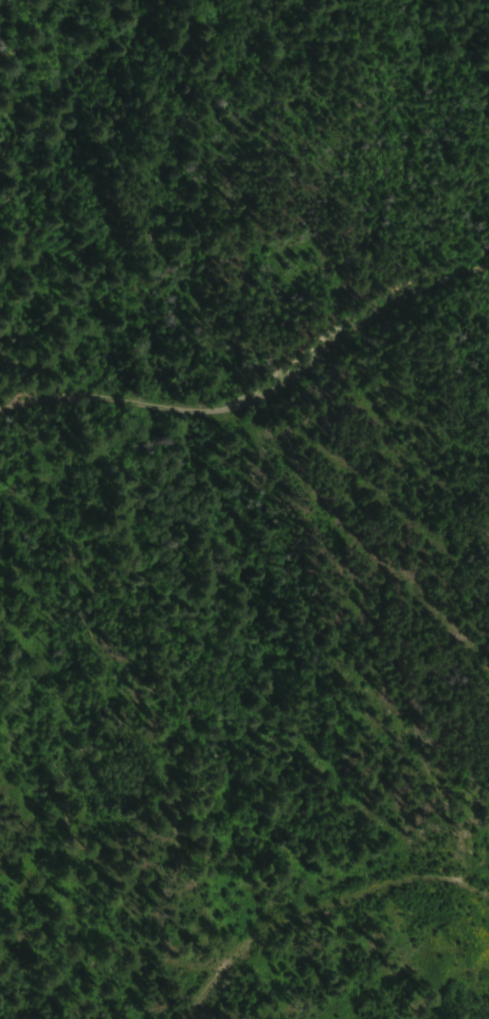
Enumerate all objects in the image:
road: (257, 389)

